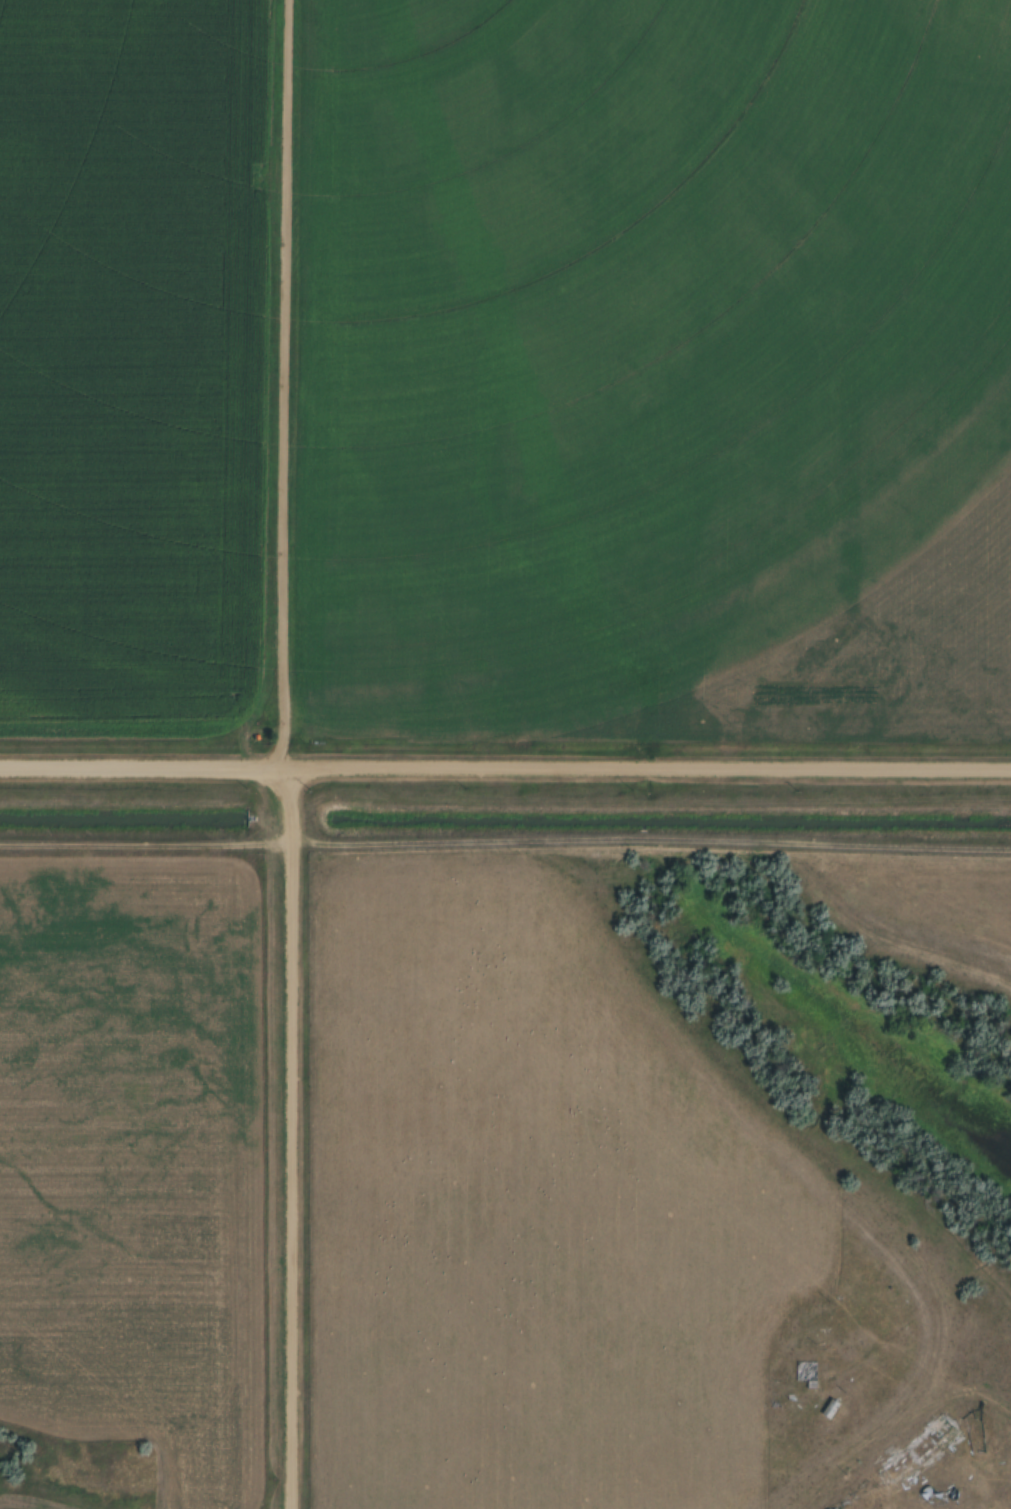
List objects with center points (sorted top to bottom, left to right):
road: (290, 387)
road: (505, 774)
road: (290, 1141)
building: (944, 1435)
building: (907, 1457)

